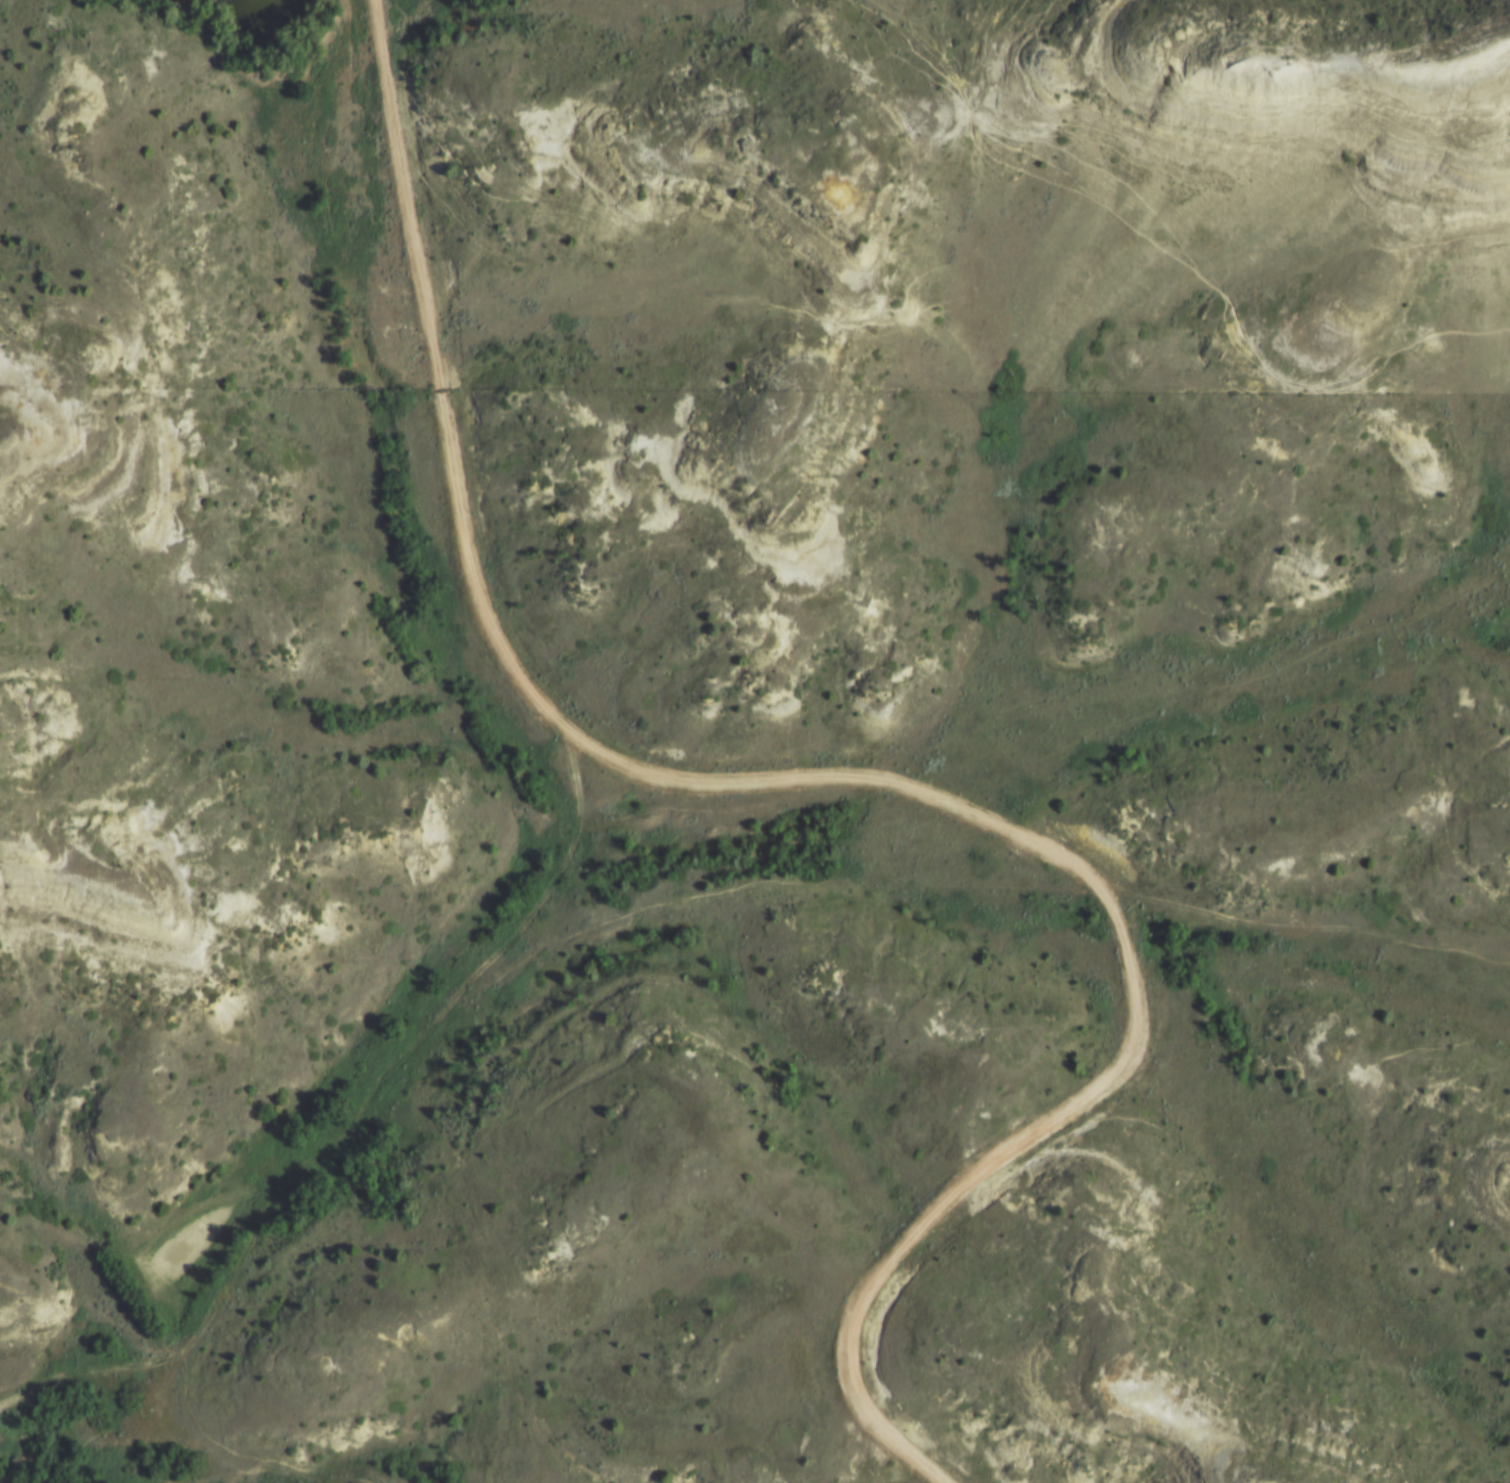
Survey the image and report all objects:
road: (833, 774)
road: (343, 1122)

